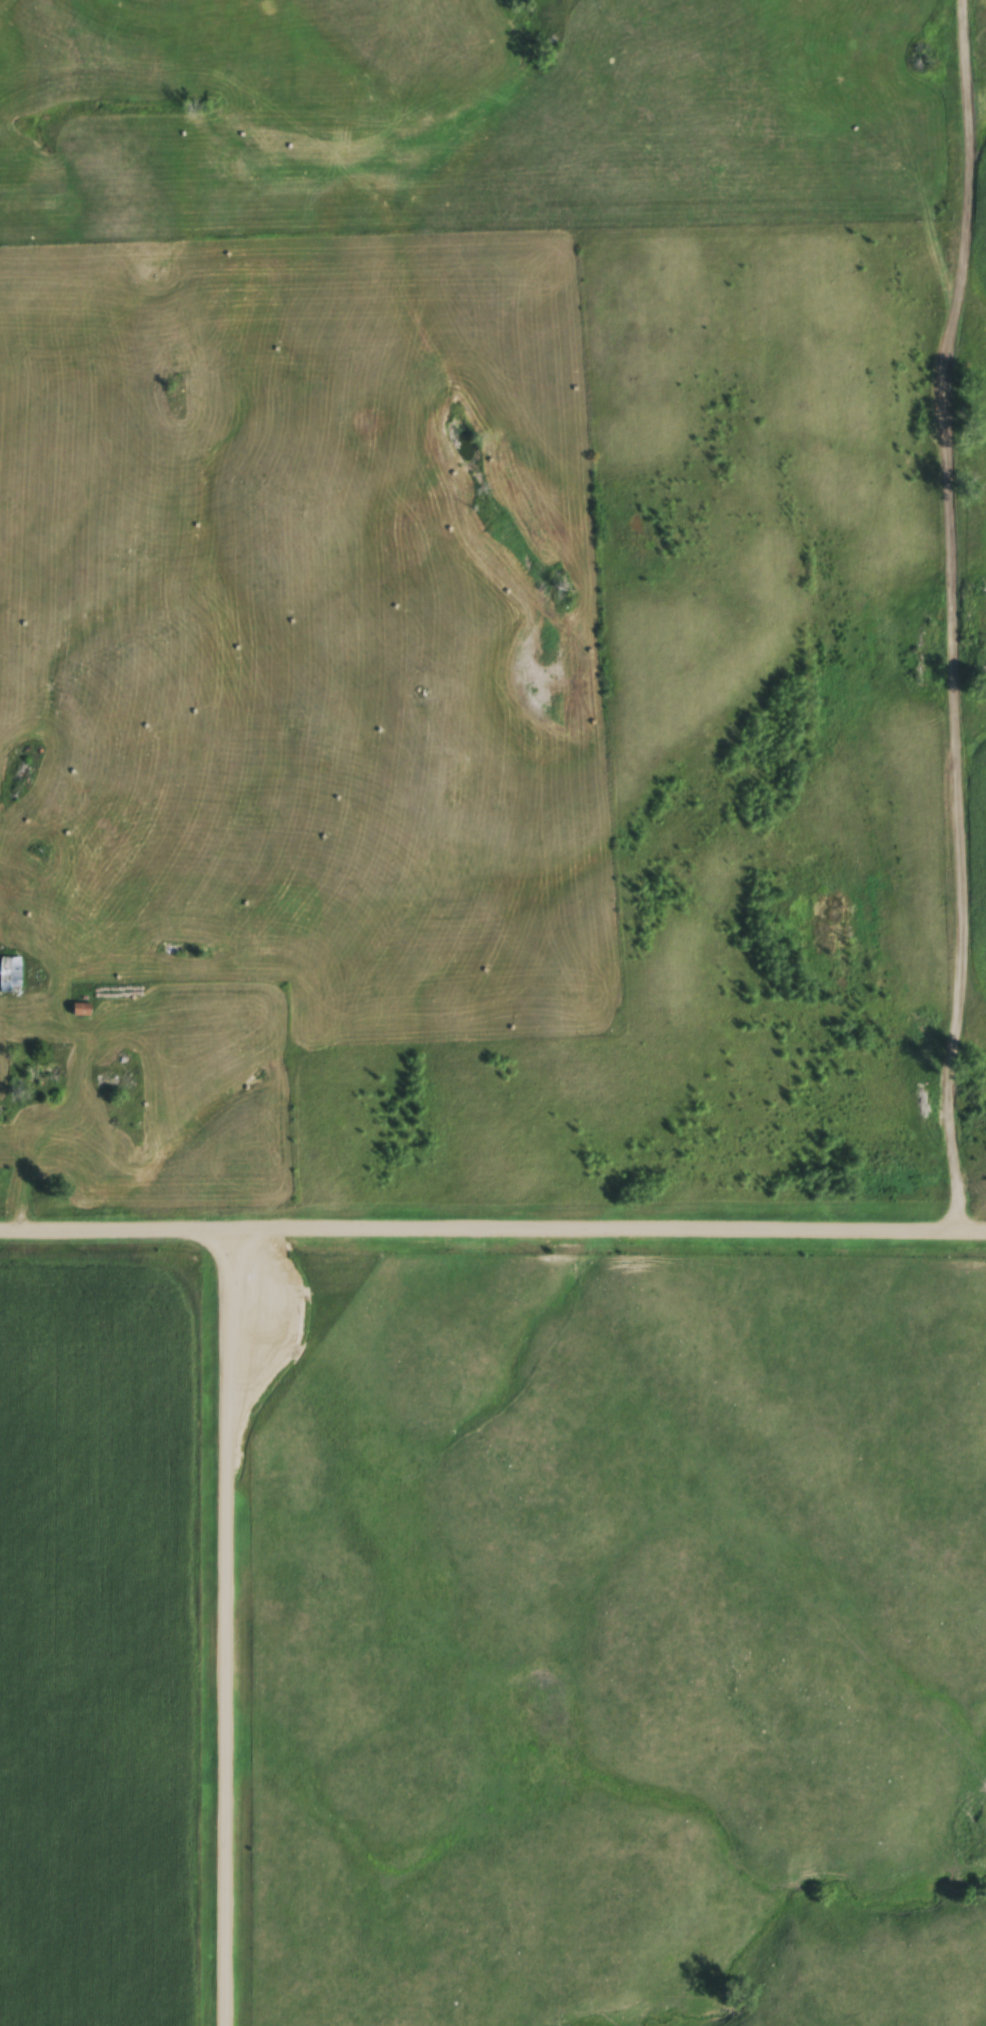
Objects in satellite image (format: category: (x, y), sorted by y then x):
road: (953, 613)
building: (10, 976)
building: (82, 1011)
road: (32, 1147)
road: (493, 1226)
road: (226, 1625)

